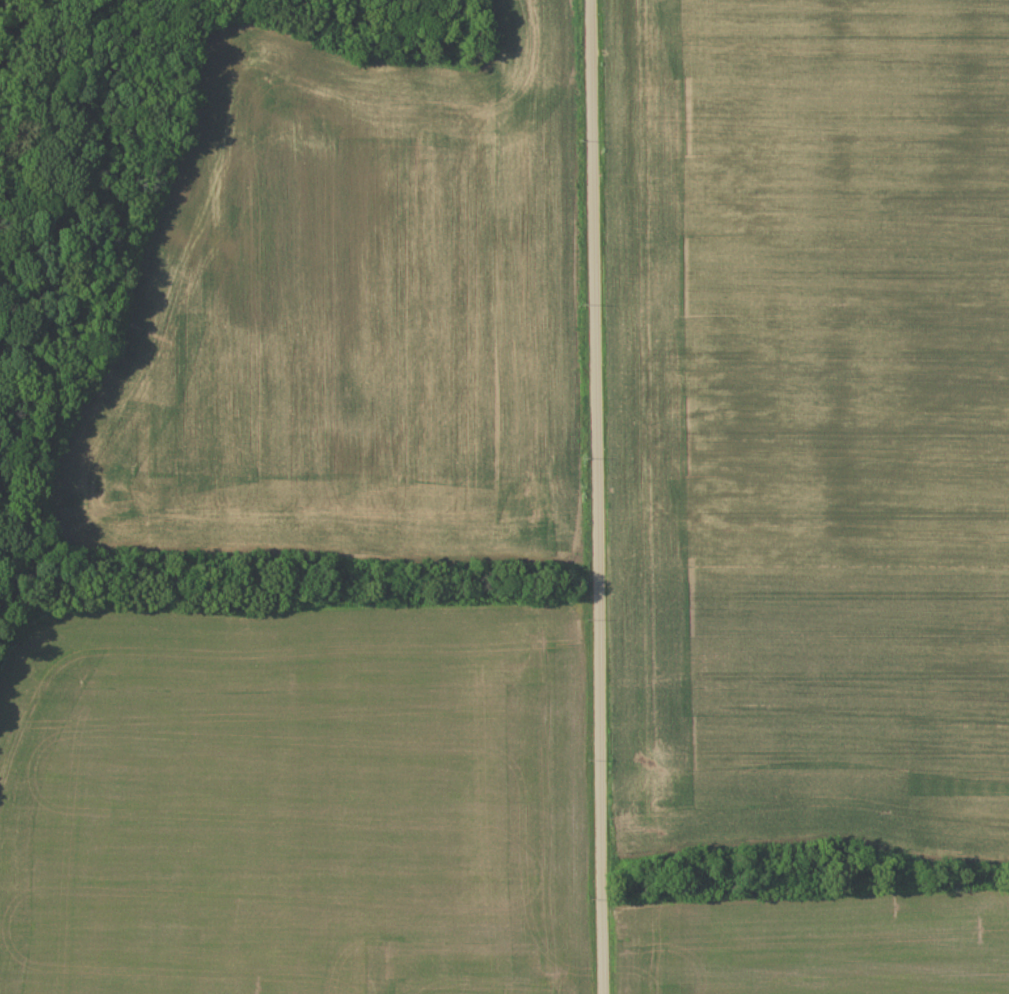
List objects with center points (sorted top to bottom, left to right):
road: (597, 497)

